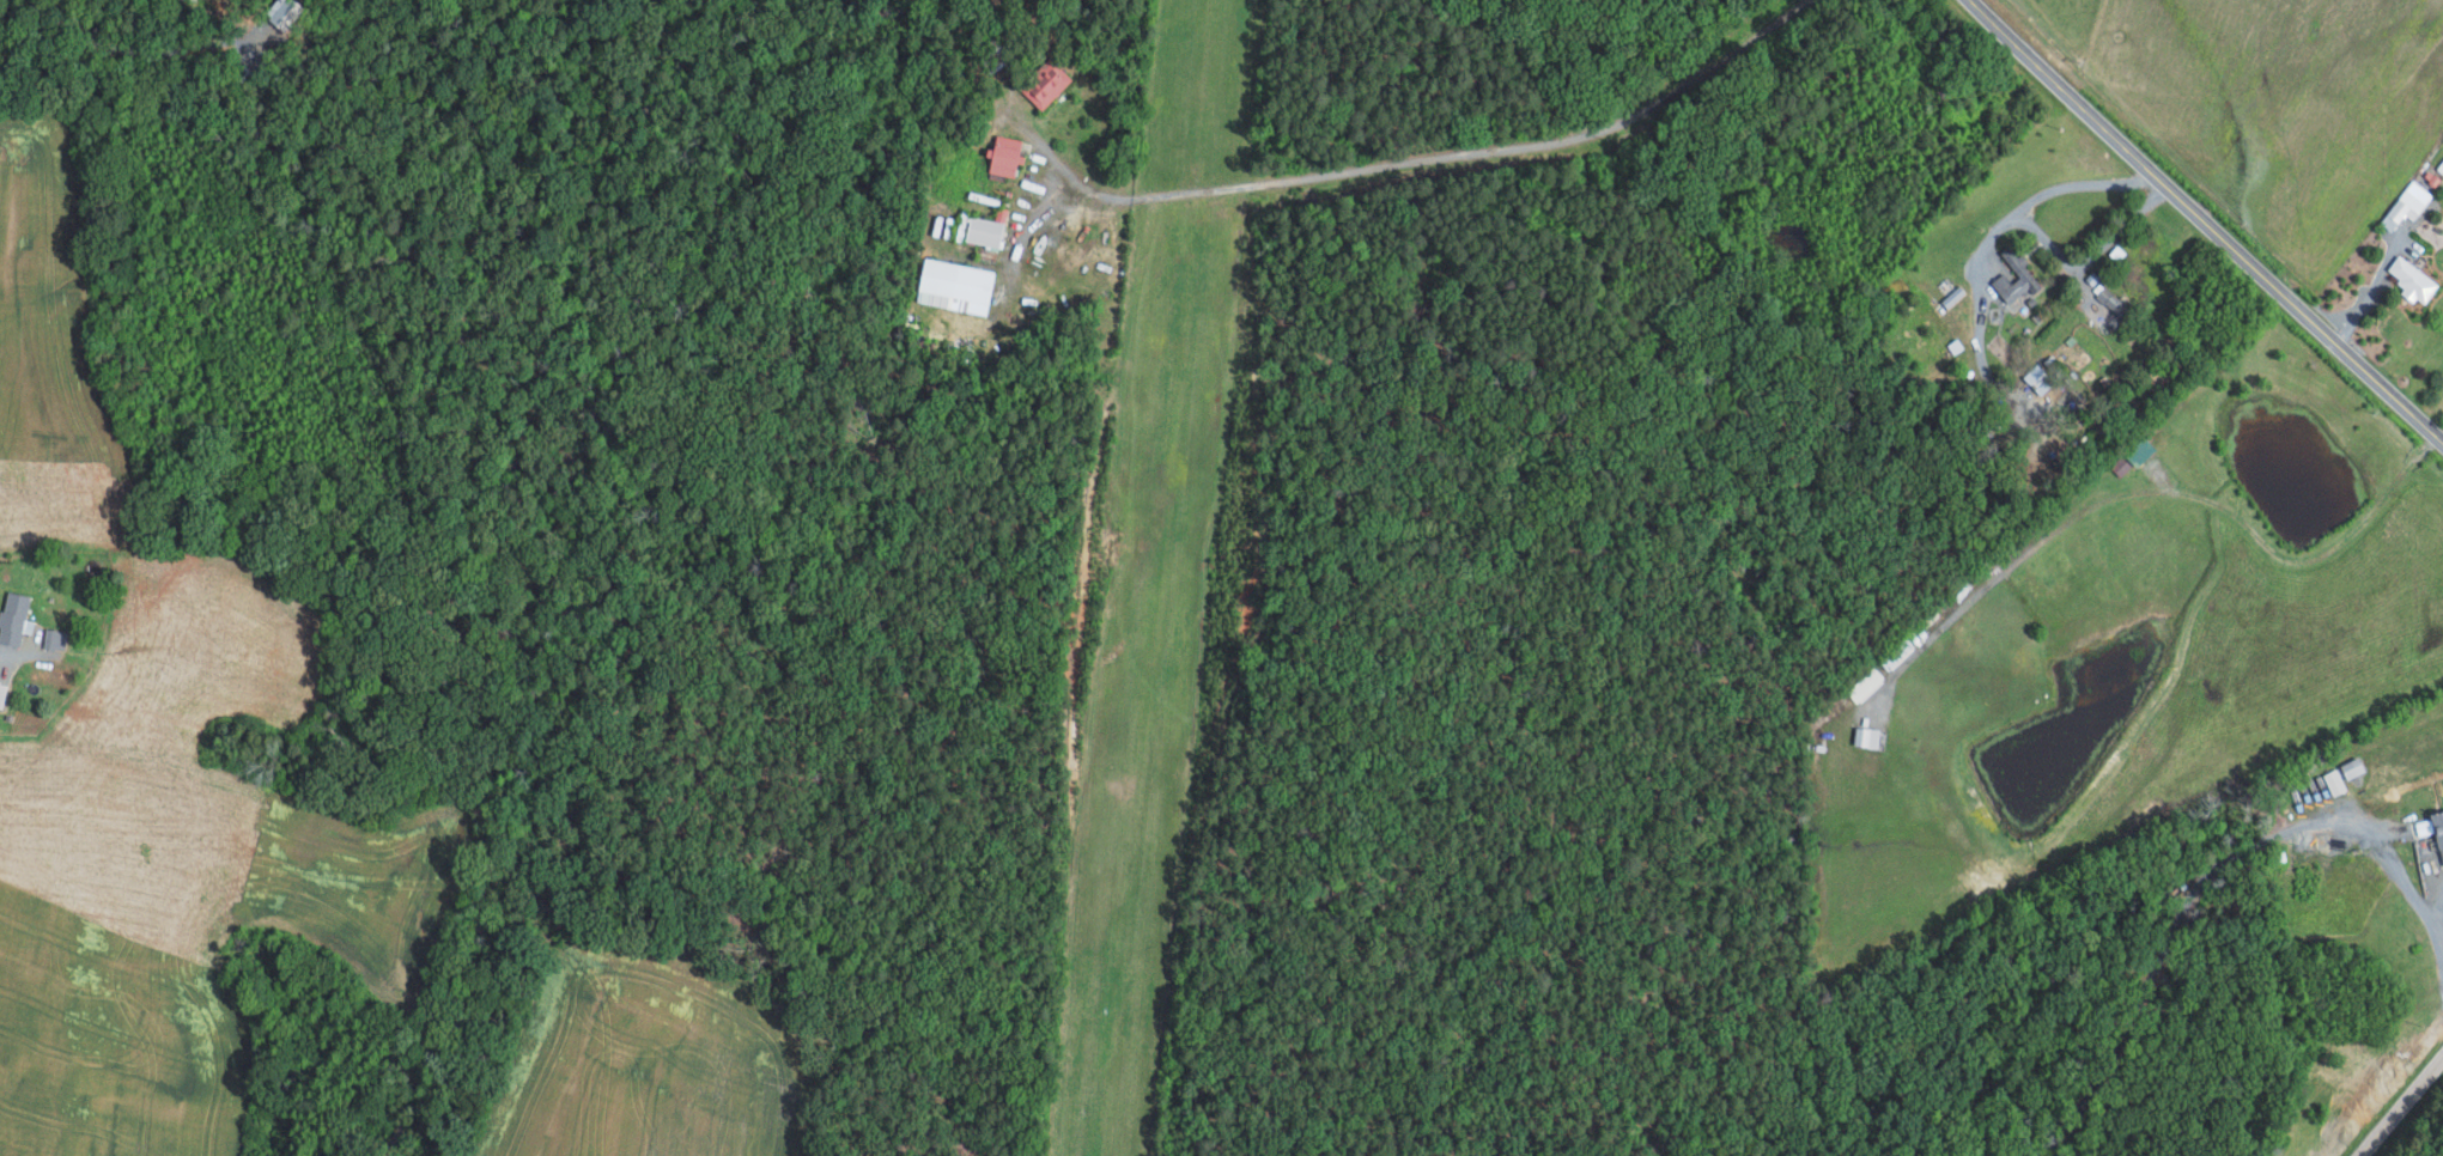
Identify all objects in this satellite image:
building: (284, 12)
road: (141, 53)
building: (1046, 83)
building: (1007, 154)
road: (1418, 159)
road: (2043, 195)
building: (2408, 205)
road: (2202, 219)
building: (984, 231)
road: (2091, 255)
building: (2414, 279)
building: (2017, 280)
building: (956, 285)
road: (2371, 290)
building: (1955, 296)
building: (2114, 302)
building: (2052, 364)
building: (2038, 378)
building: (2143, 452)
road: (1296, 518)
airport runway: (1157, 578)
building: (16, 619)
building: (54, 644)
building: (2, 694)
building: (1868, 737)
building: (2353, 767)
building: (2431, 825)
road: (2395, 859)
road: (2398, 1102)

